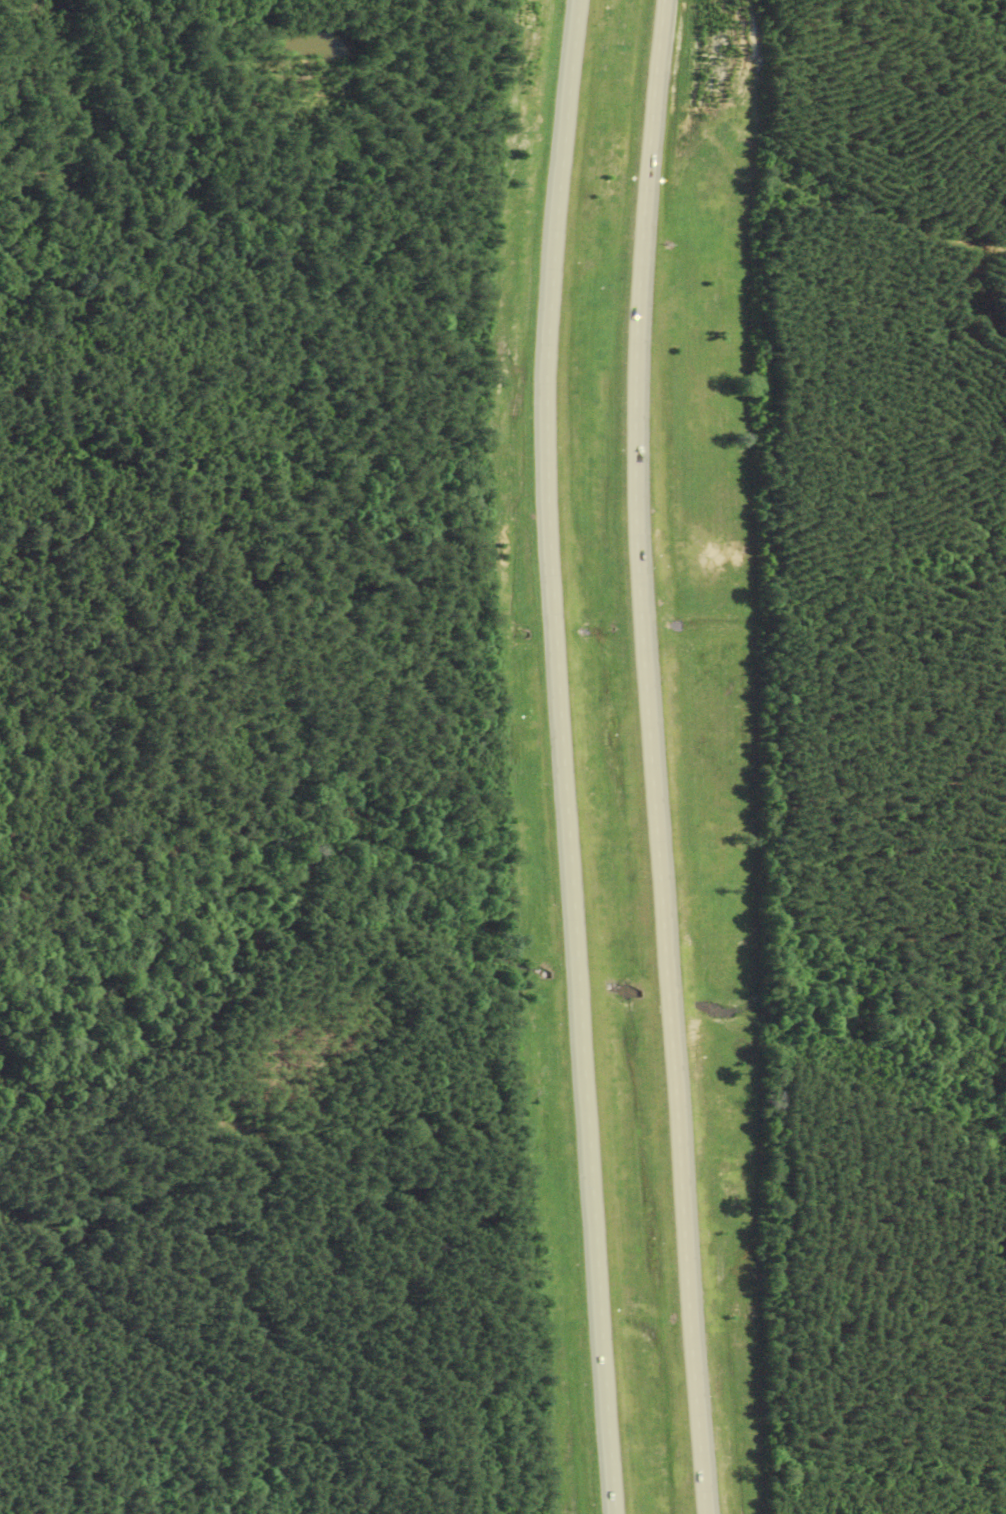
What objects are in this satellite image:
road: (566, 756)
road: (654, 756)

